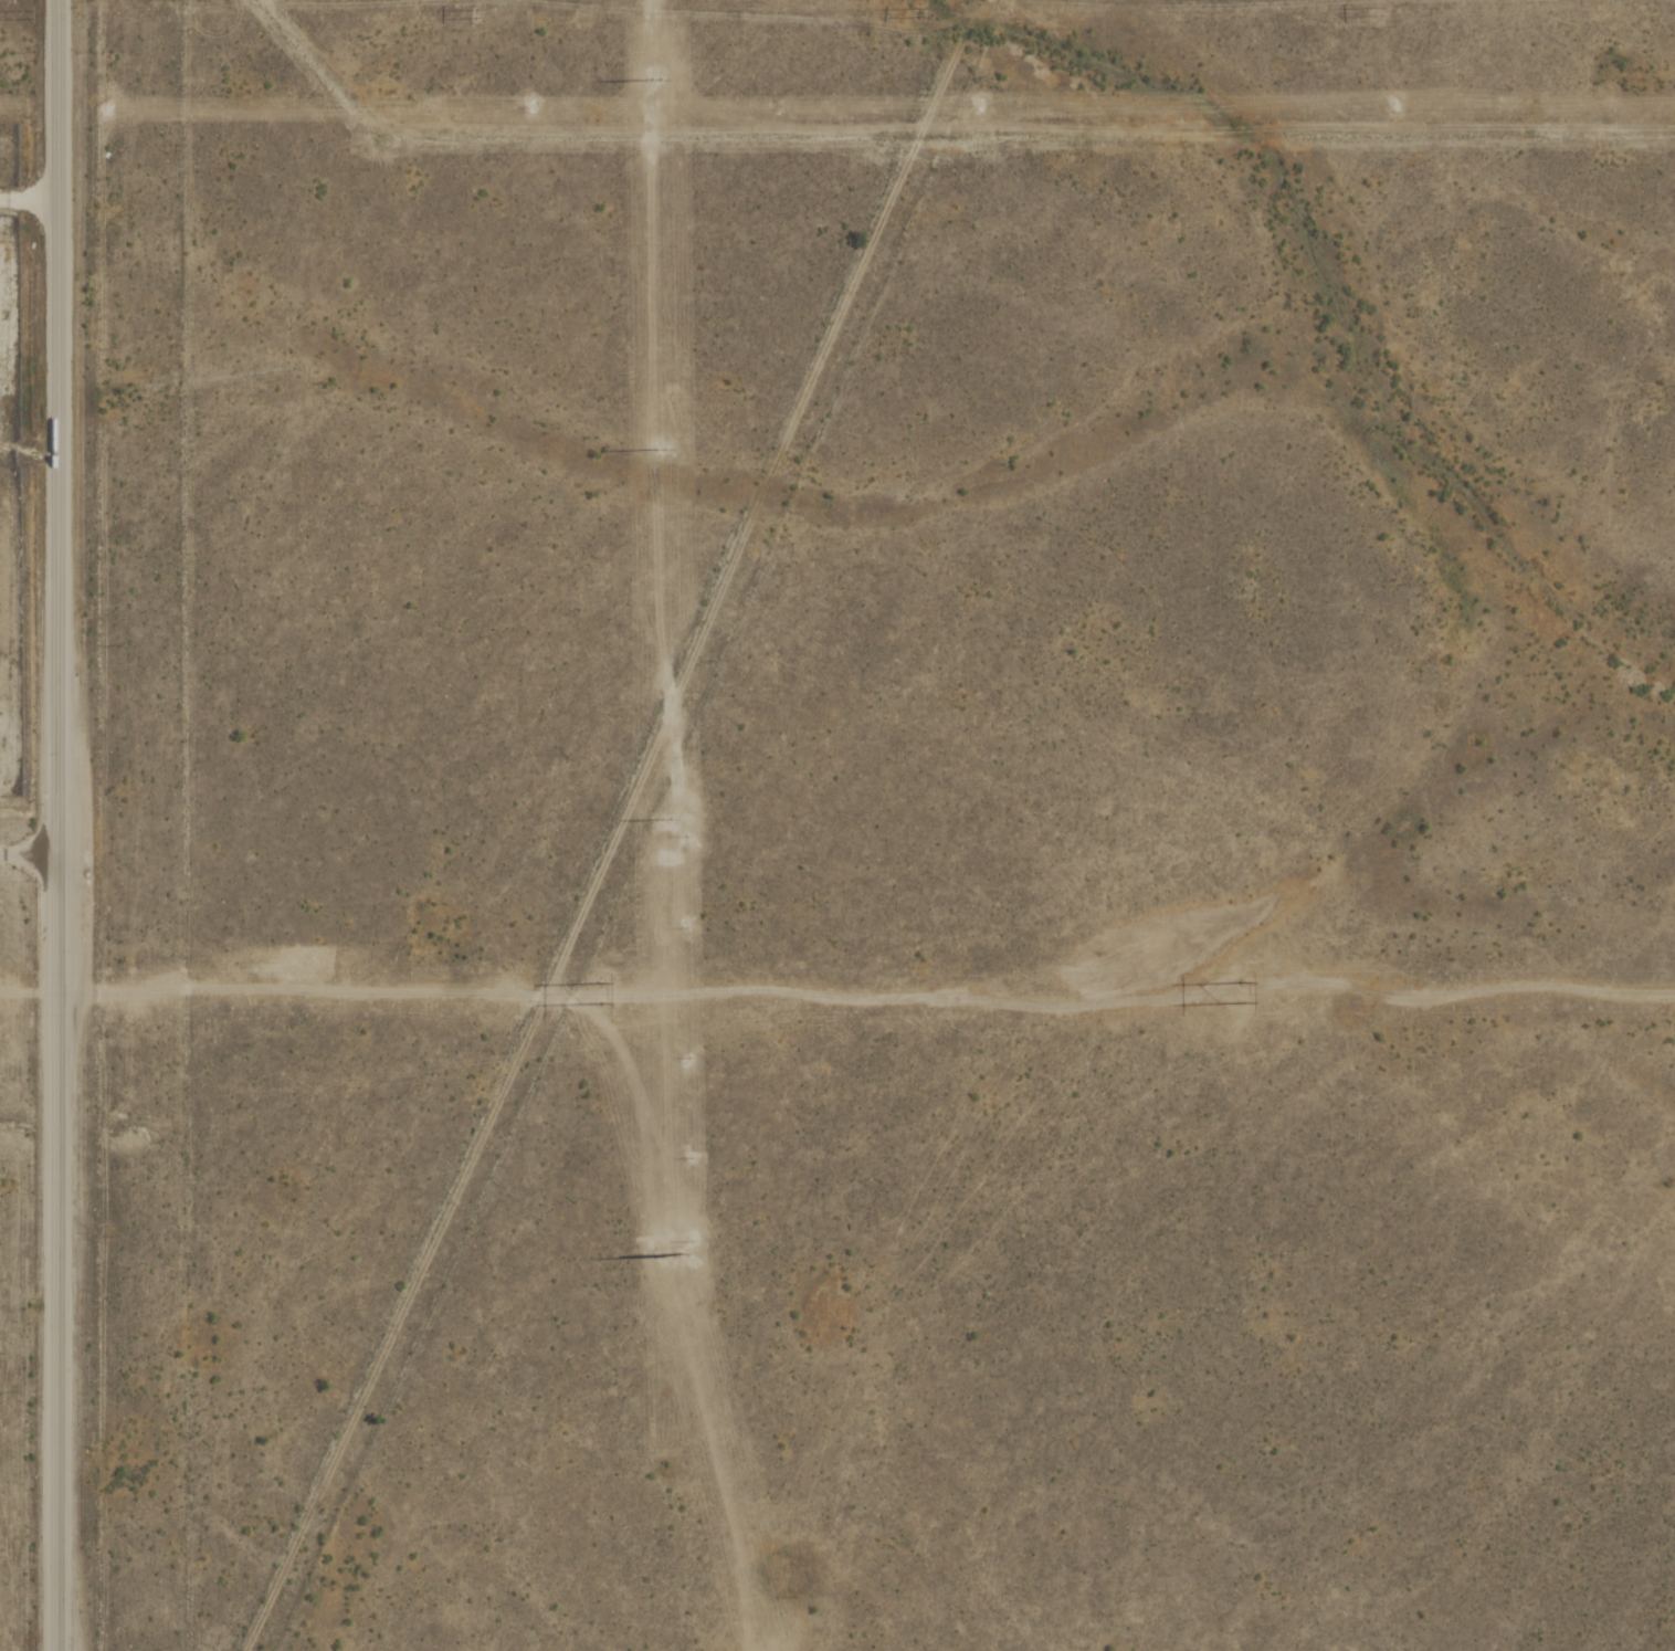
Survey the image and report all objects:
power tower: (474, 14)
power tower: (1382, 14)
power tower: (920, 15)
power tower: (29, 17)
power tower: (982, 108)
power tower: (1398, 108)
power tower: (105, 111)
power tower: (535, 111)
road: (61, 825)
road: (30, 845)
power tower: (1237, 991)
power tower: (598, 993)

